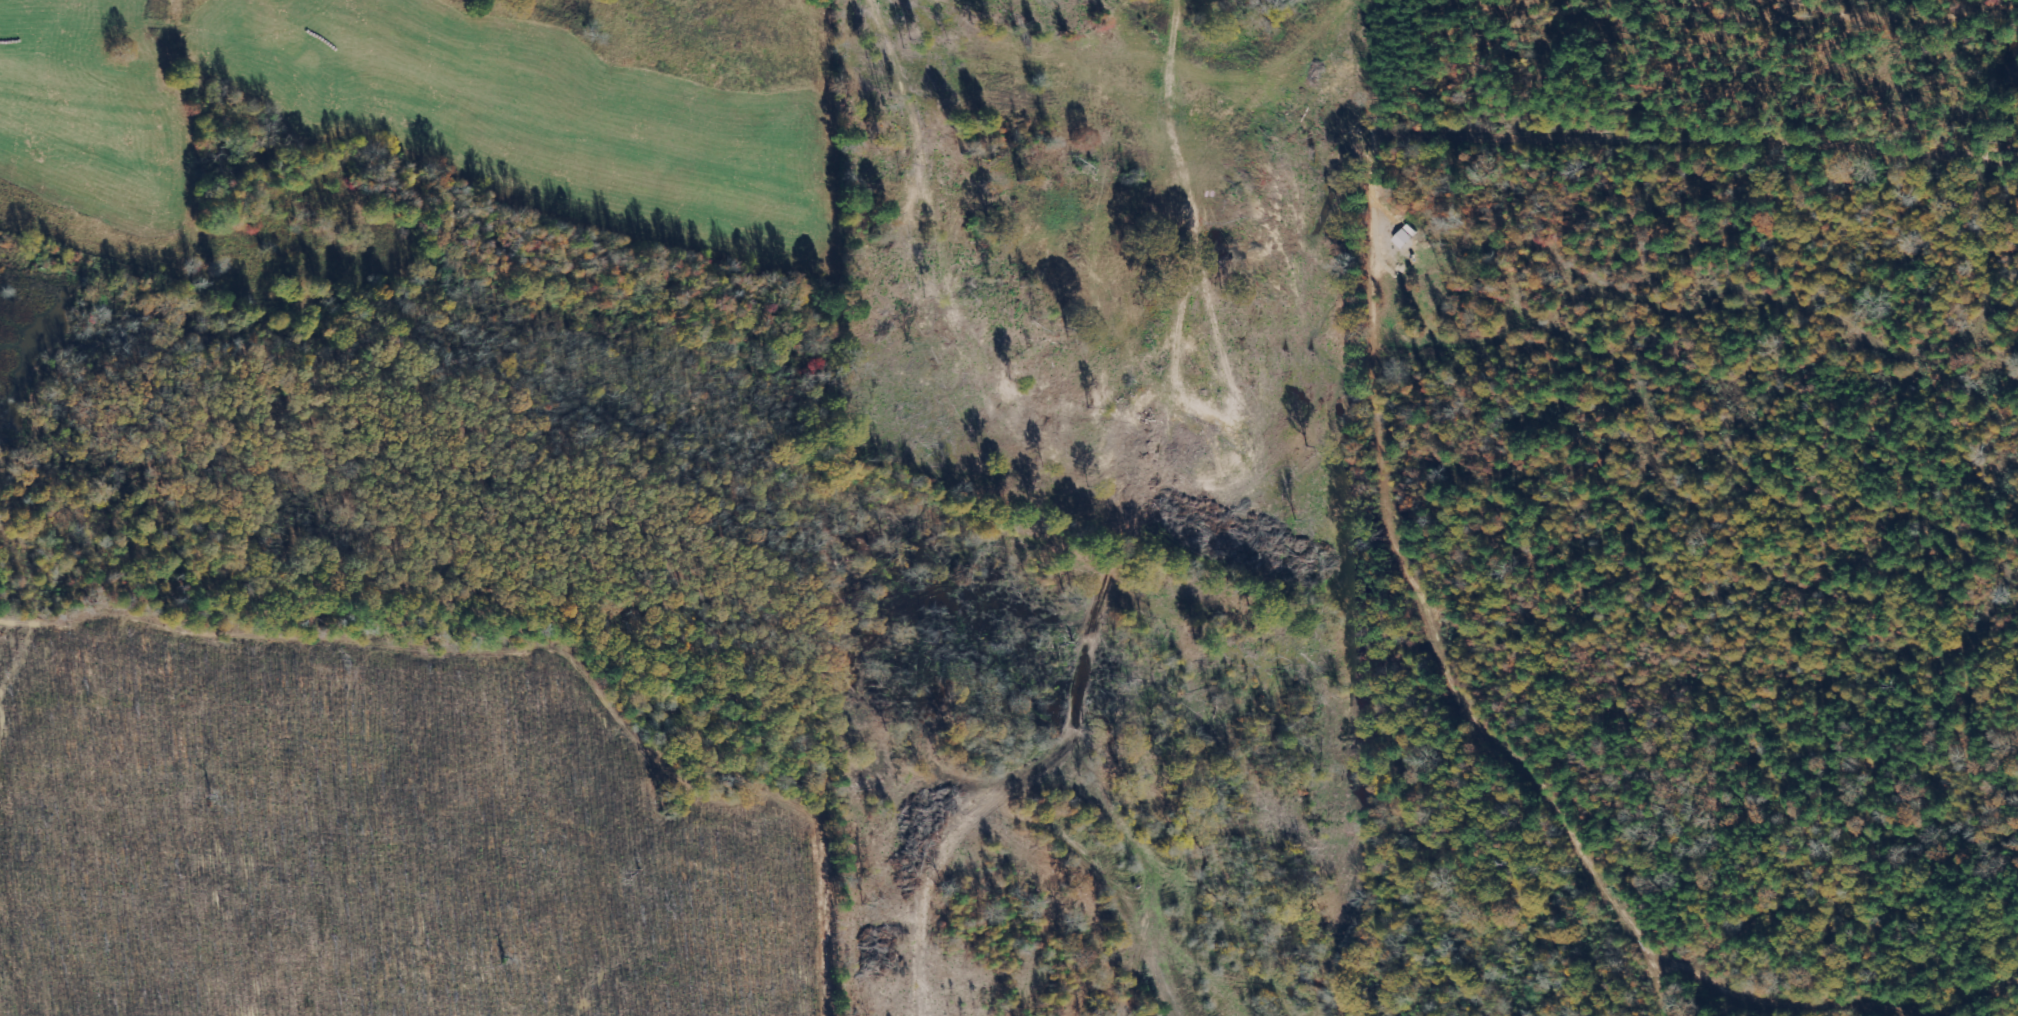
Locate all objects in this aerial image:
road: (1374, 154)

